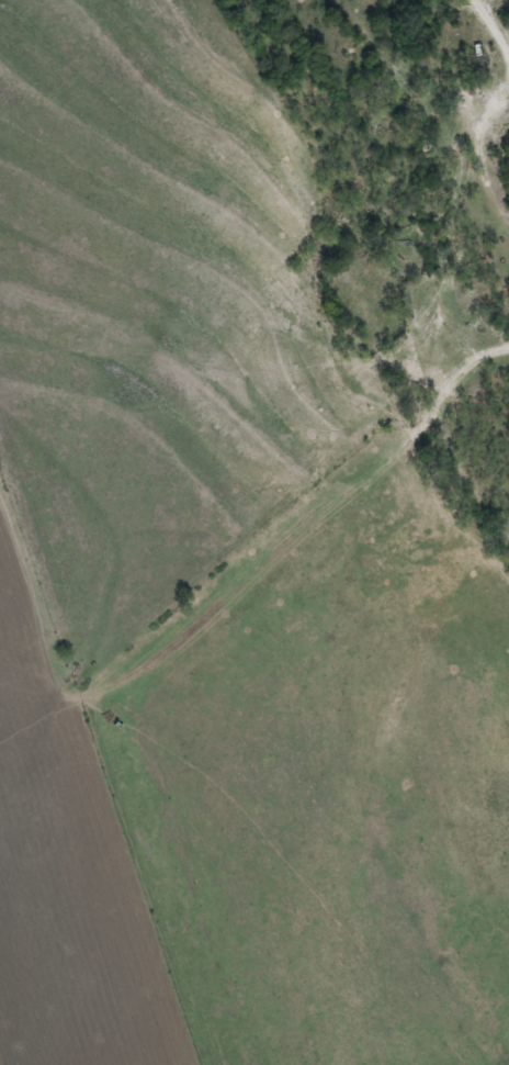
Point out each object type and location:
road: (495, 23)

